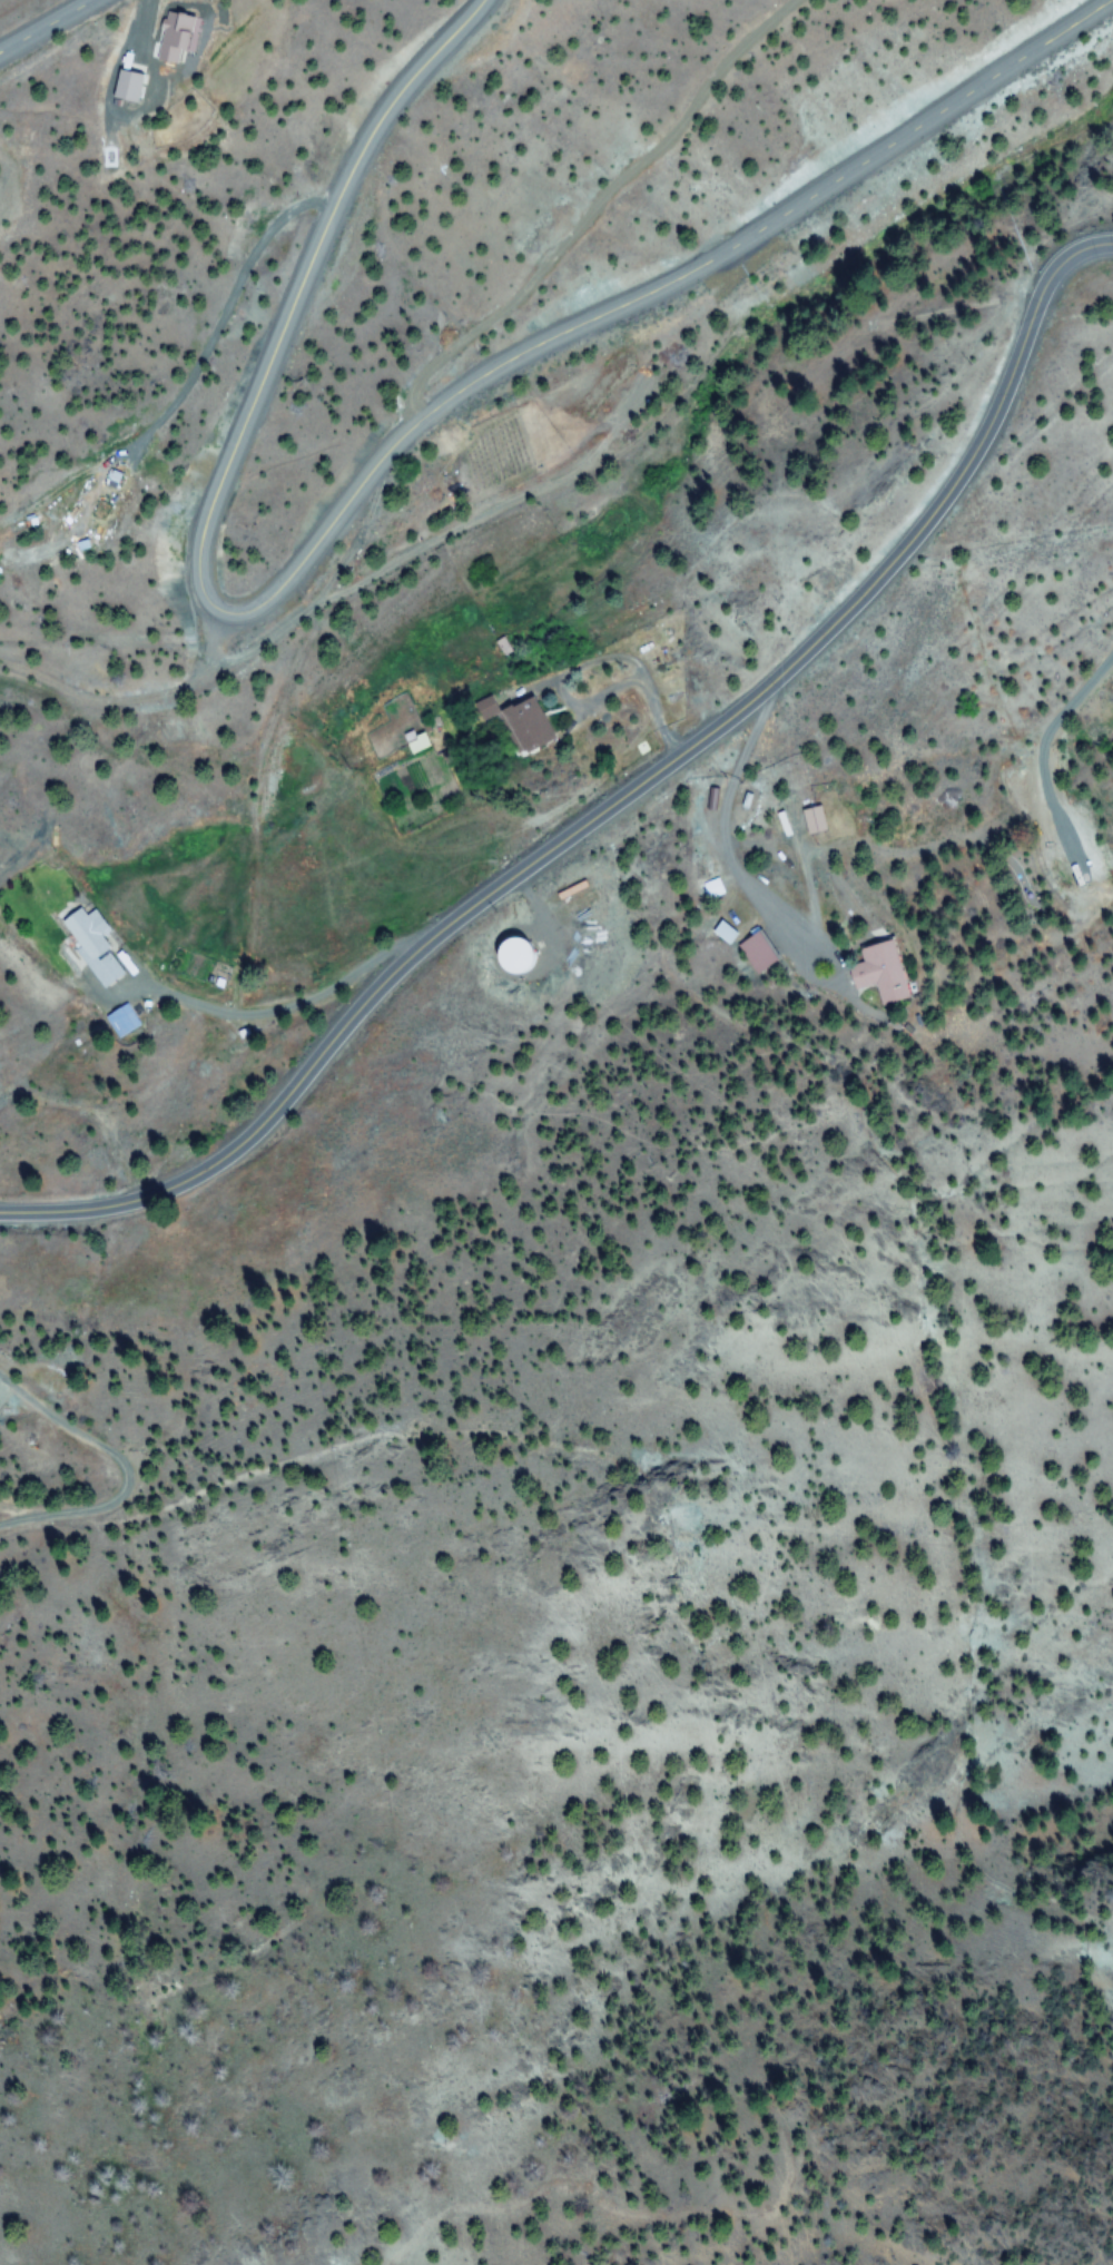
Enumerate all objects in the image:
road: (49, 29)
building: (125, 86)
road: (362, 491)
building: (510, 723)
road: (618, 800)
building: (811, 820)
building: (90, 944)
building: (756, 953)
building: (506, 956)
building: (874, 973)

